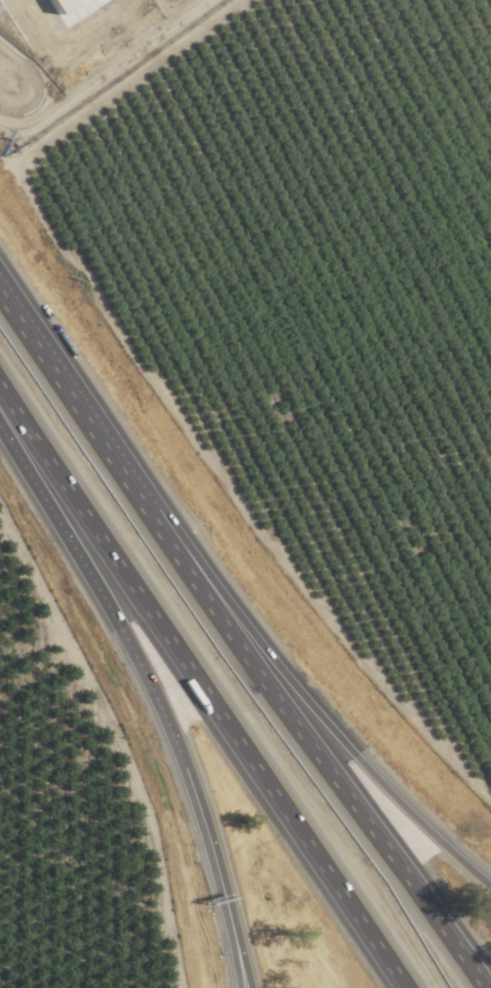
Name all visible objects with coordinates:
road: (98, 69)
road: (86, 424)
road: (128, 644)
road: (197, 693)
road: (326, 726)
road: (329, 770)
road: (228, 934)
road: (233, 934)

